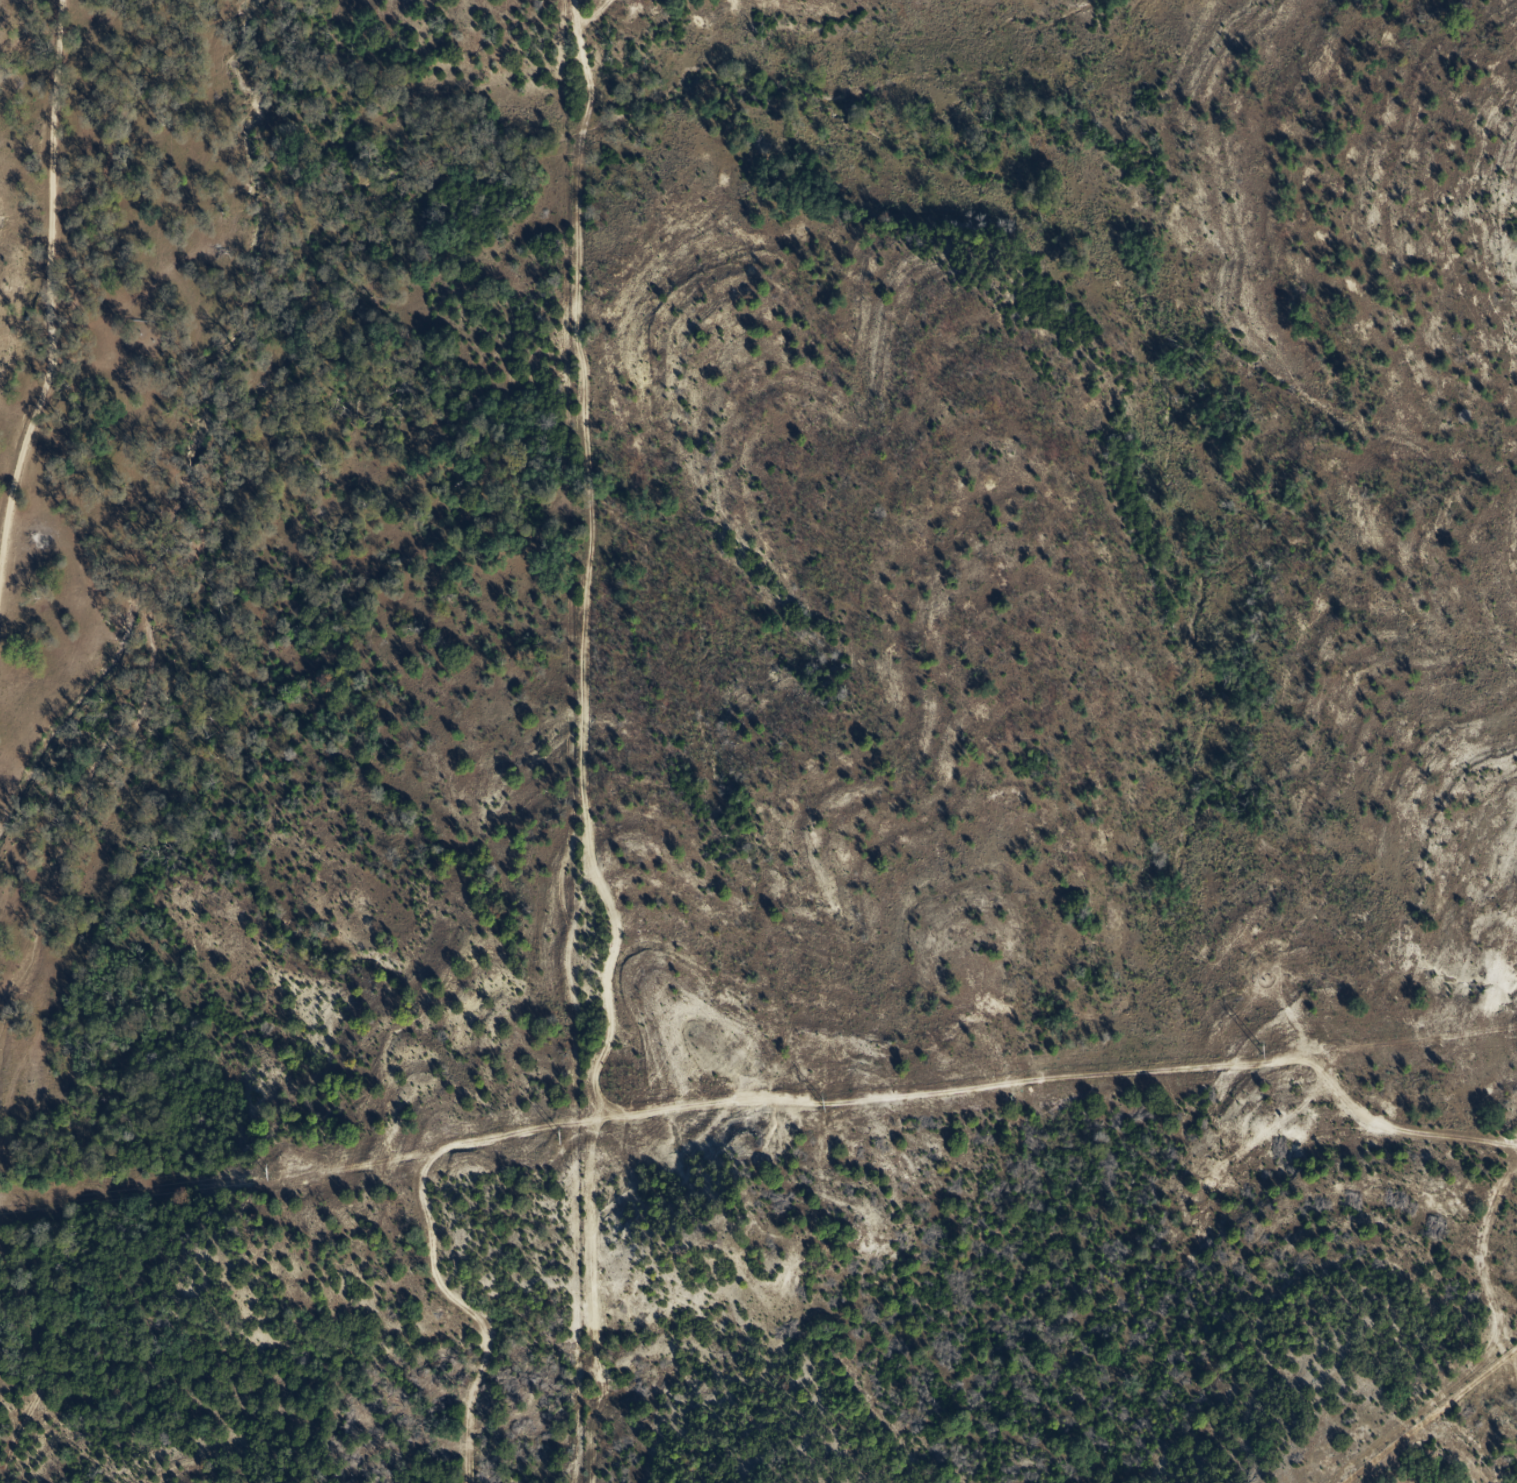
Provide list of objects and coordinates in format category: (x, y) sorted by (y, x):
road: (52, 306)
power tower: (1265, 1049)
power tower: (826, 1102)
power tower: (566, 1135)
power tower: (272, 1171)

